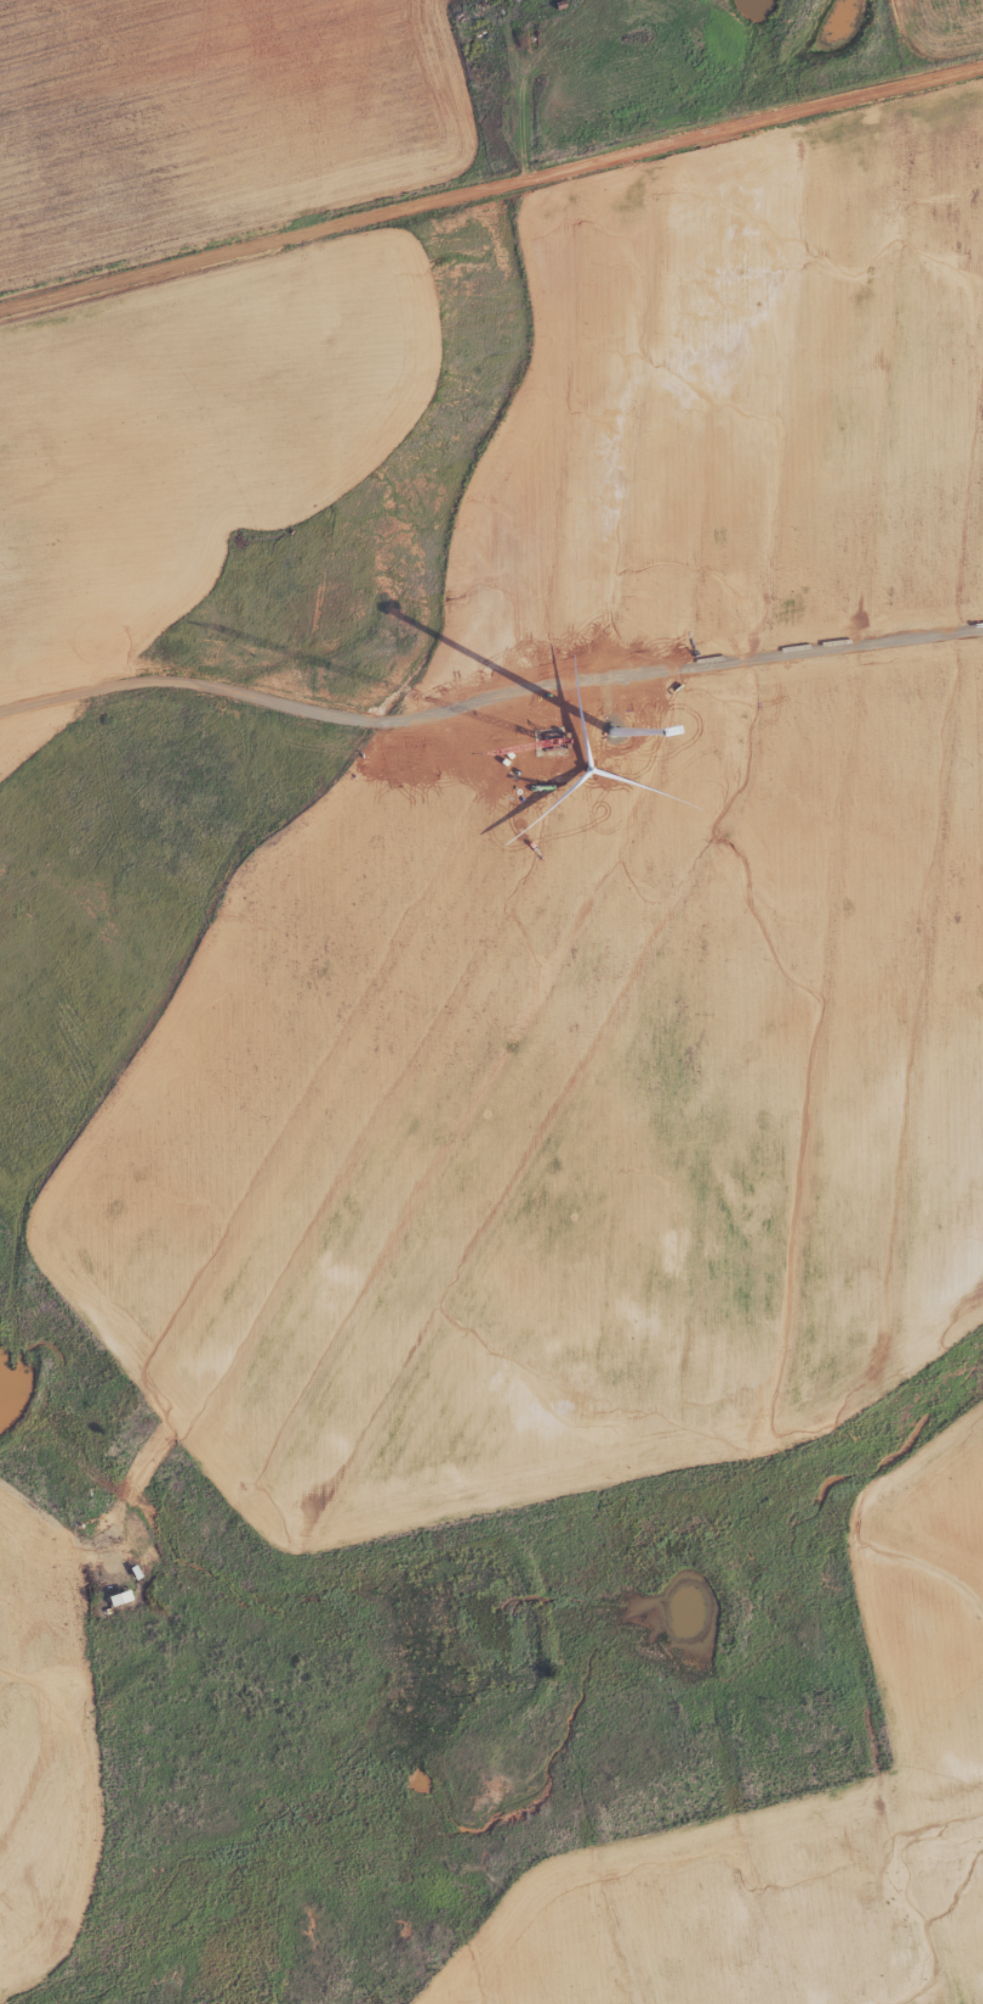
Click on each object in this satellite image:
road: (491, 184)
wind turbine: (612, 732)

